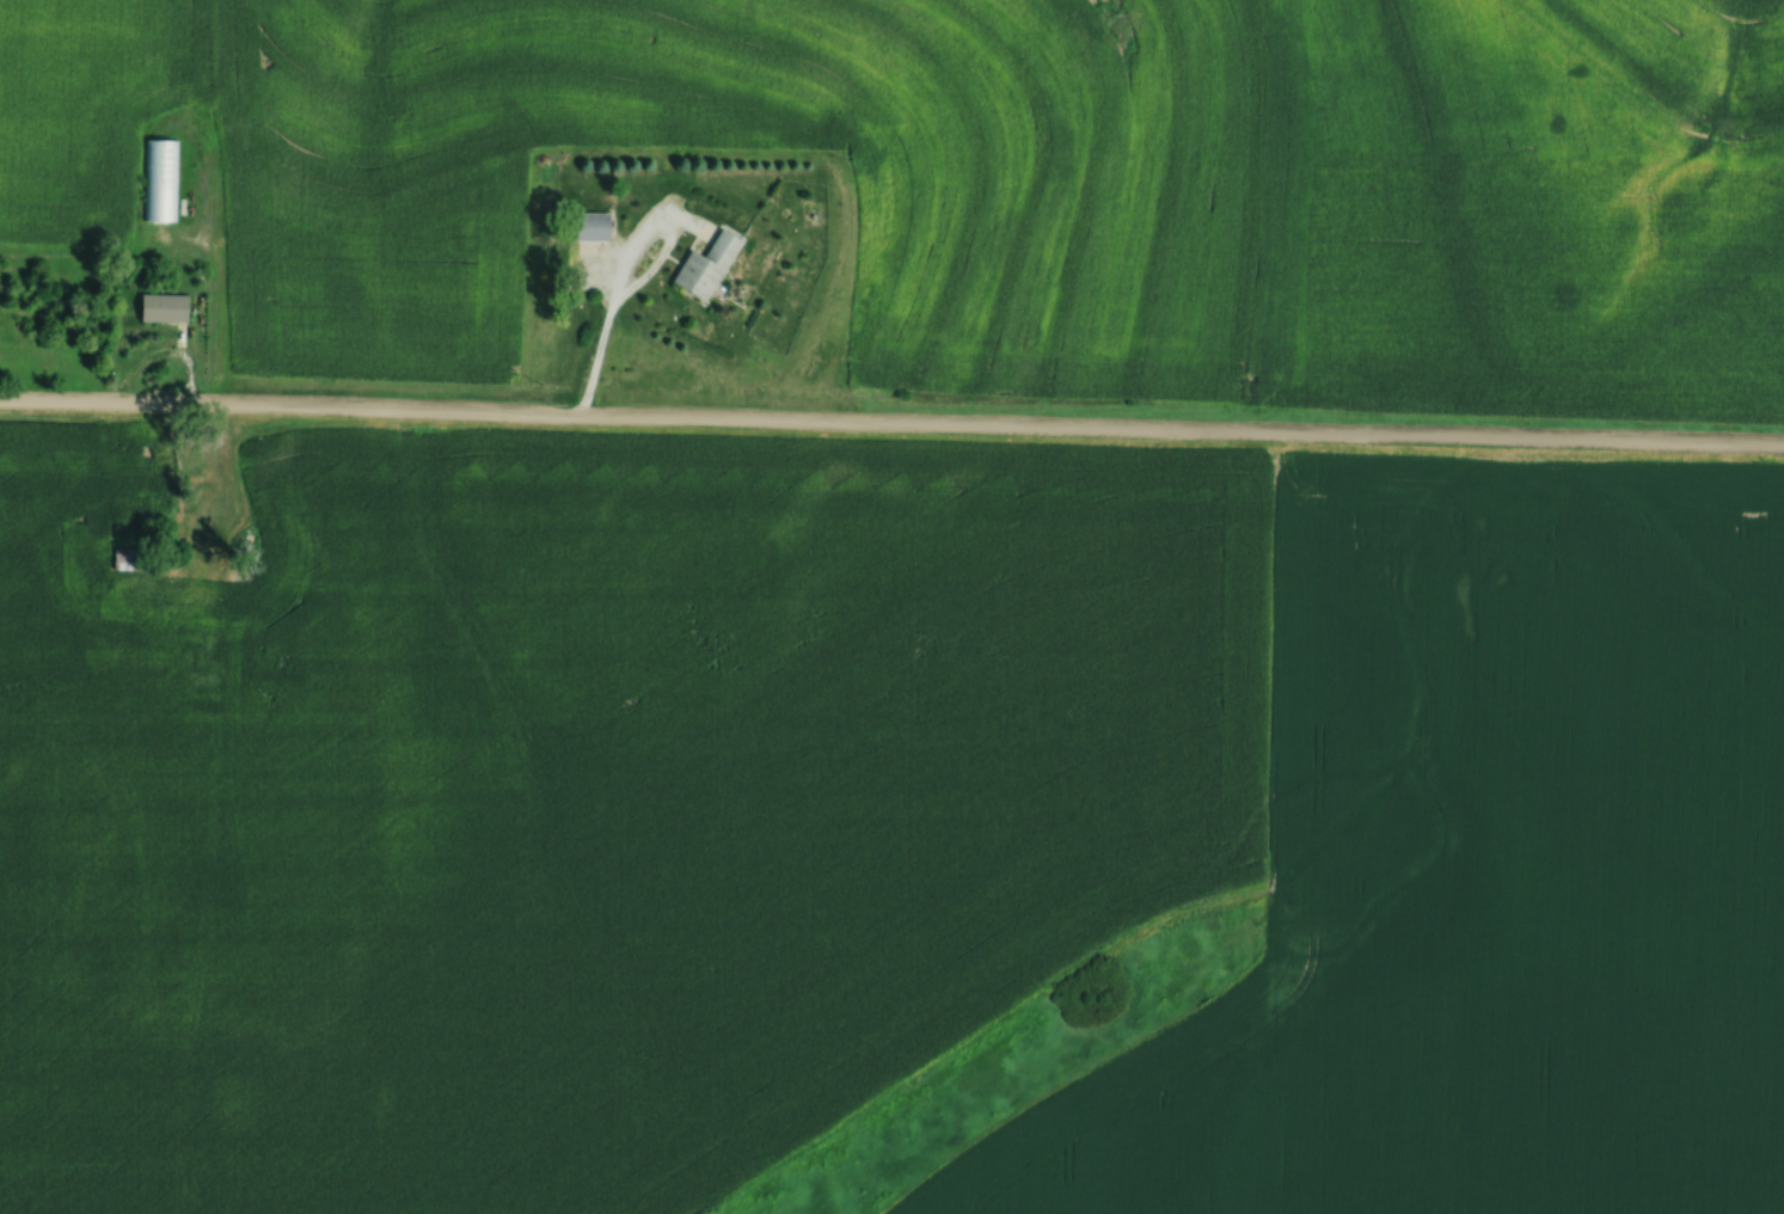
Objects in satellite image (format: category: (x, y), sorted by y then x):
building: (161, 178)
building: (596, 223)
road: (640, 241)
building: (711, 264)
building: (168, 306)
road: (597, 356)
road: (891, 425)
building: (134, 557)

